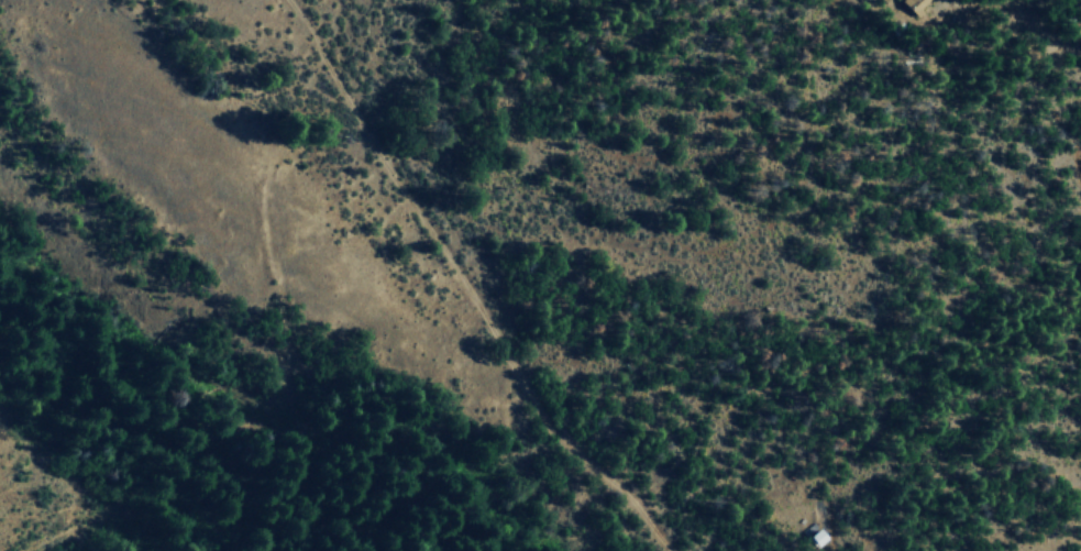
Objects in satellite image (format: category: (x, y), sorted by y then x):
building: (914, 4)

